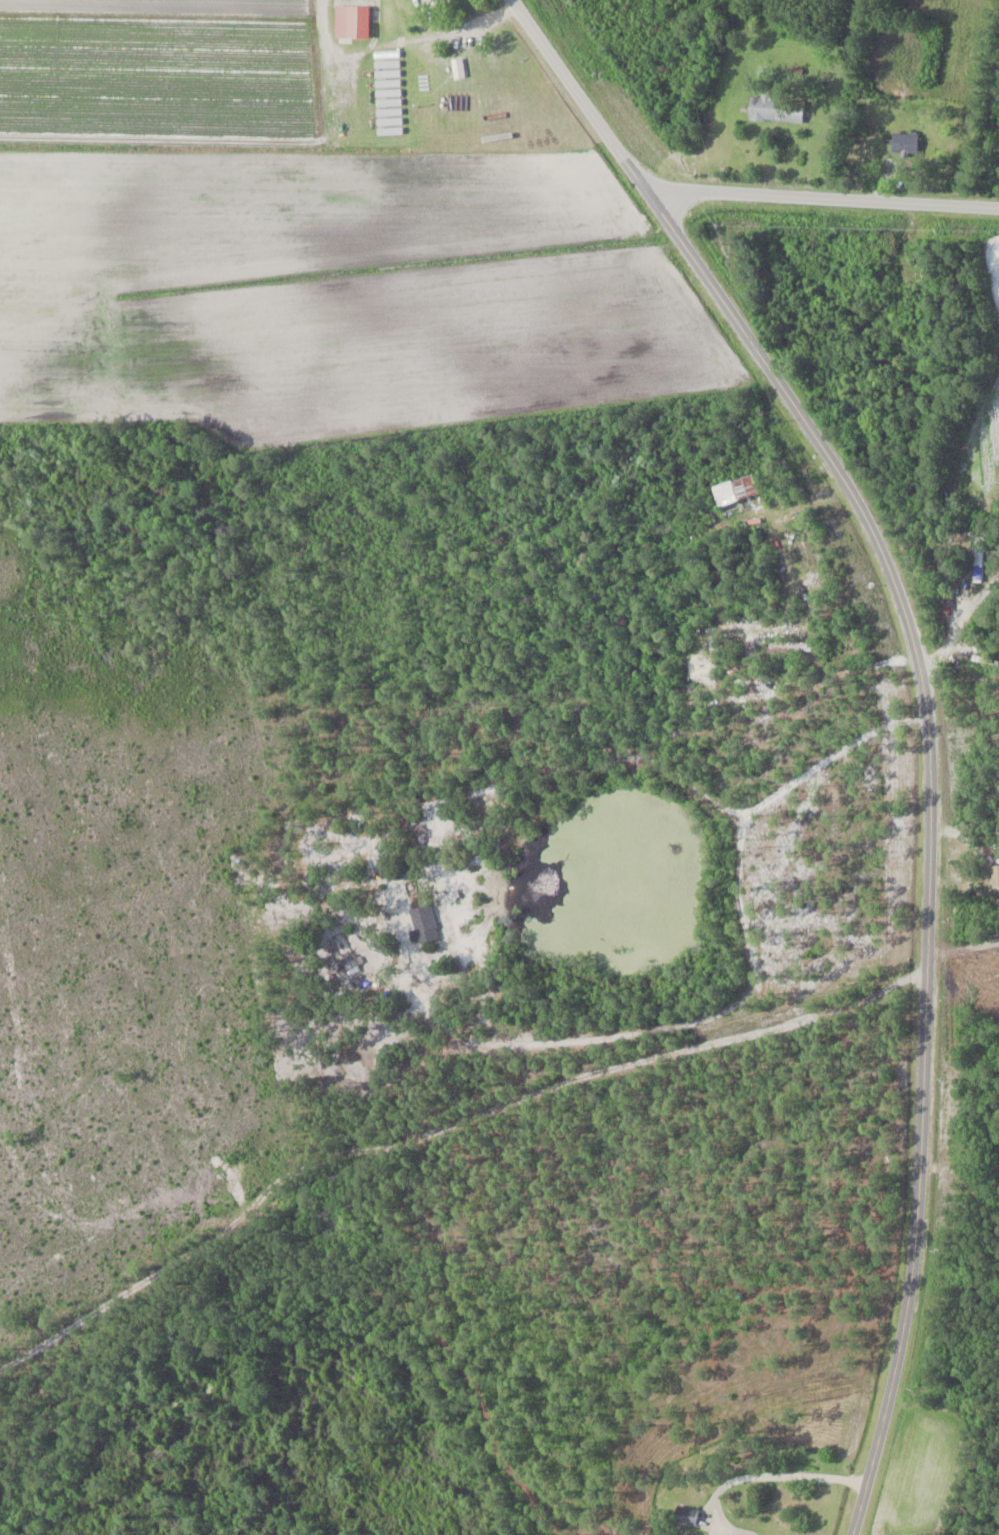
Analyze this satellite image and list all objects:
building: (434, 0)
building: (354, 21)
road: (578, 93)
building: (777, 109)
building: (906, 143)
road: (822, 196)
building: (737, 490)
building: (980, 561)
building: (792, 646)
road: (930, 826)
building: (995, 875)
building: (963, 917)
building: (424, 924)
building: (349, 961)
road: (748, 991)
road: (758, 1475)
building: (686, 1514)

